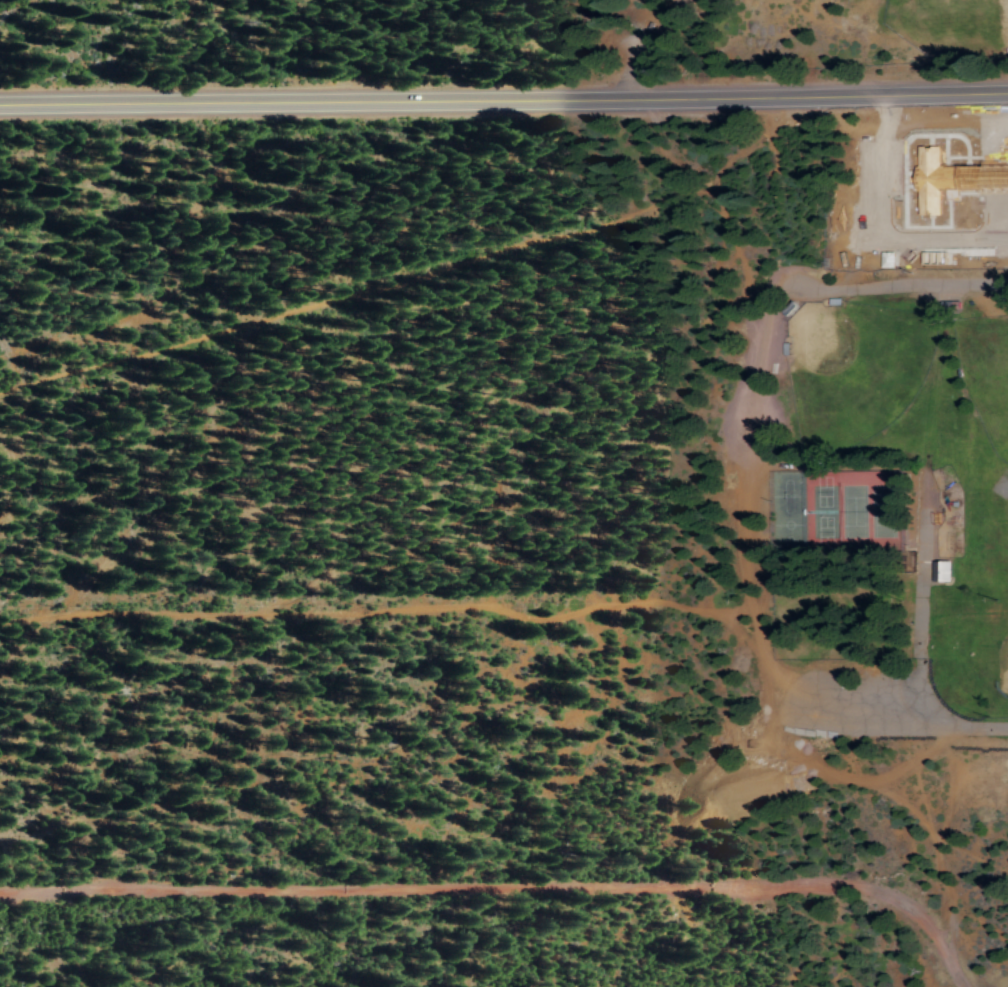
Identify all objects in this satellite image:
road: (504, 95)
building: (993, 199)
building: (912, 212)
road: (905, 289)
park: (862, 507)
building: (942, 570)
road: (756, 593)
road: (511, 884)

